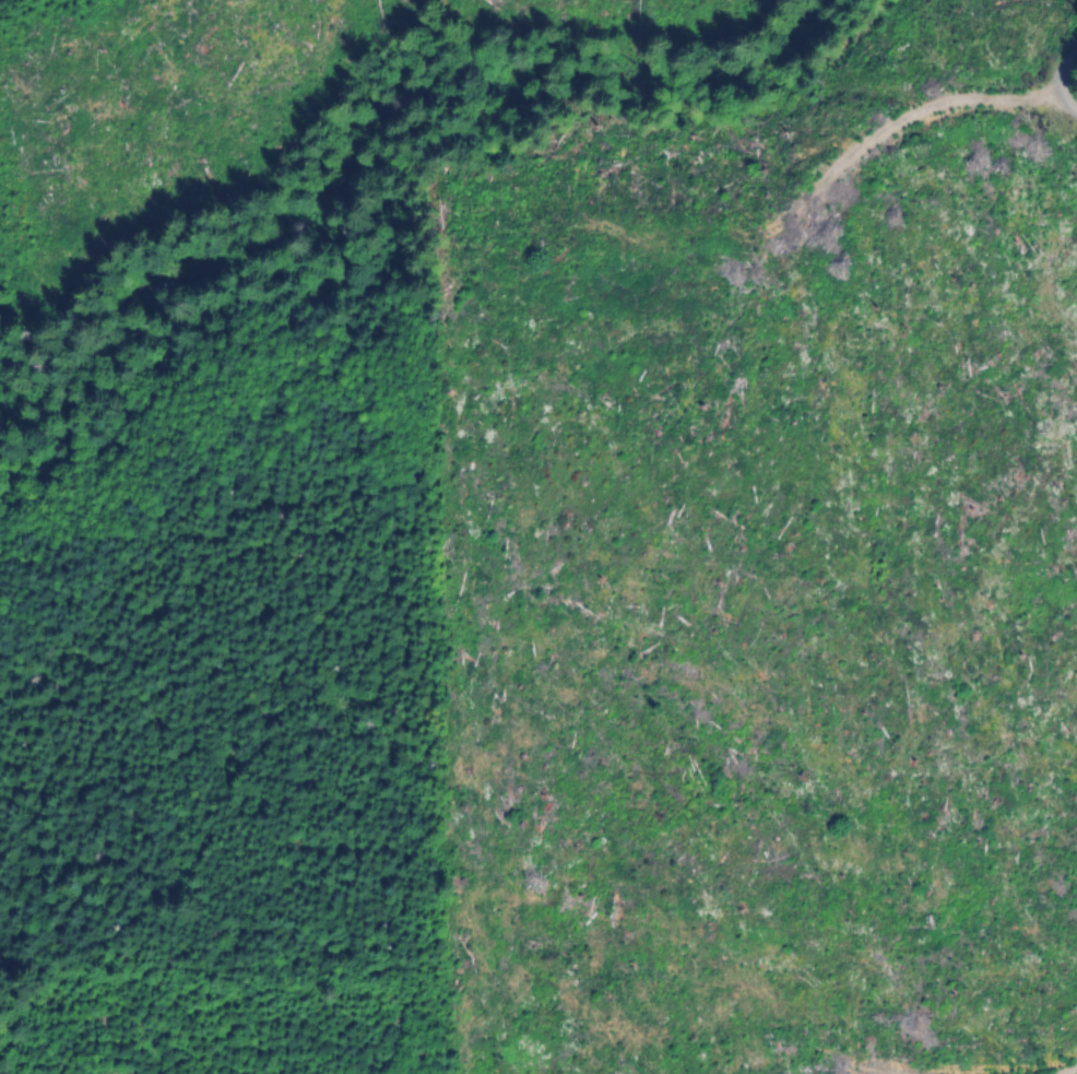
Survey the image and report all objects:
road: (1053, 87)

